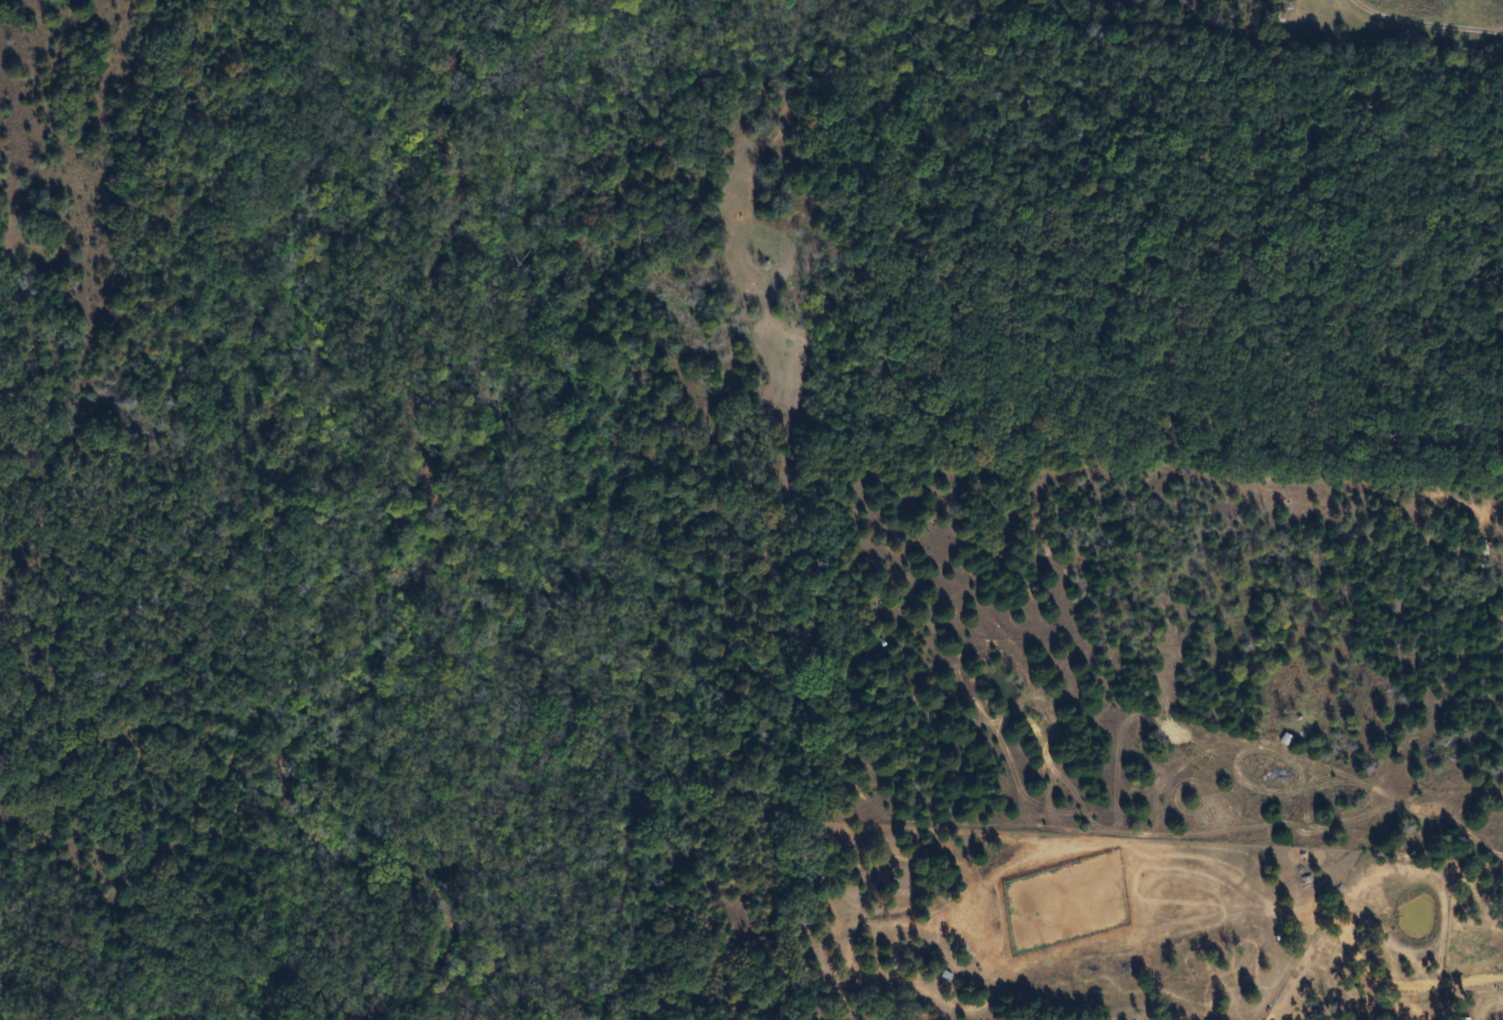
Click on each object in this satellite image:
road: (1427, 25)

